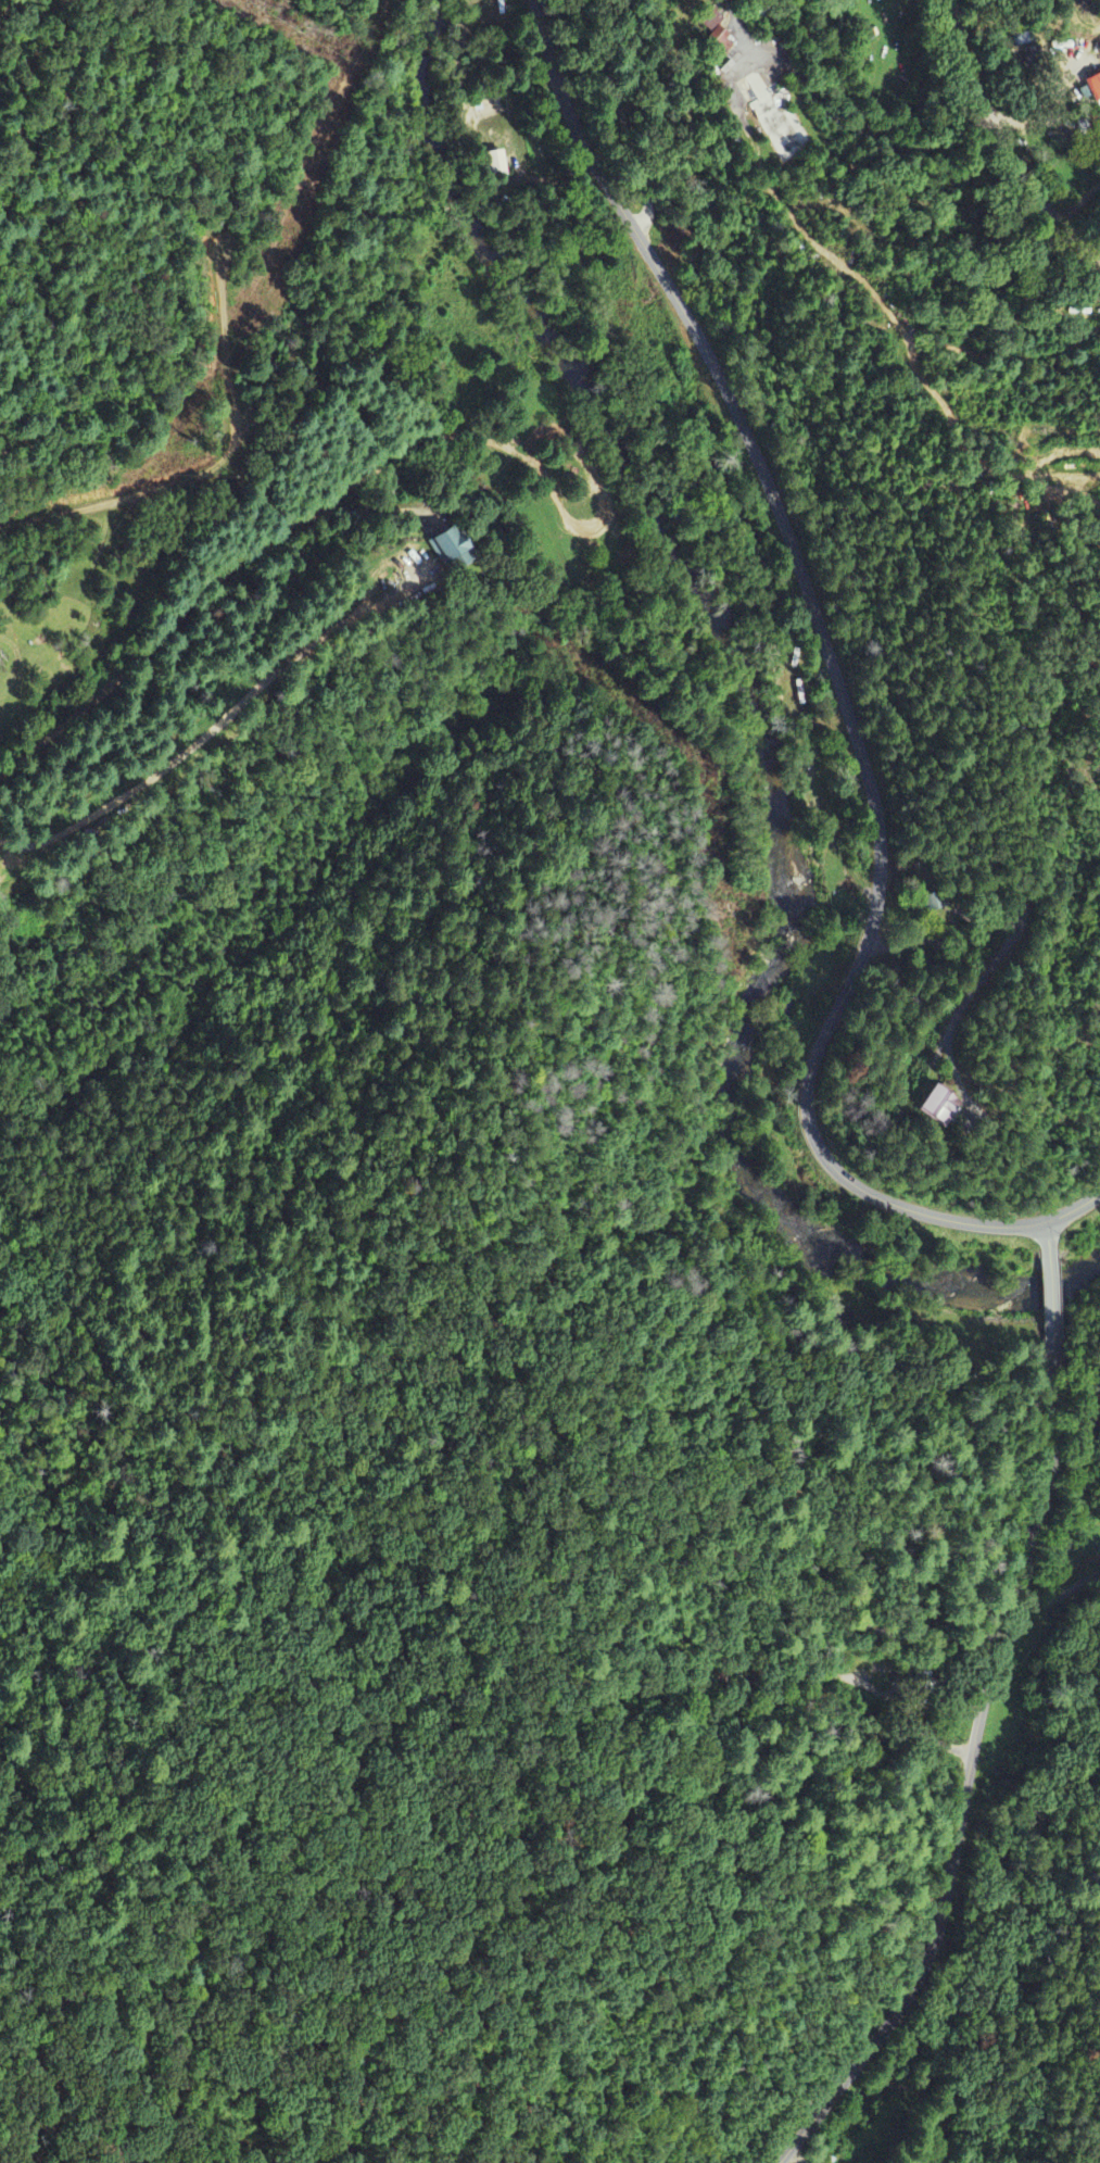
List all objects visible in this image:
building: (716, 34)
building: (1095, 89)
road: (631, 116)
road: (1003, 140)
building: (496, 164)
building: (450, 551)
road: (846, 706)
building: (937, 1107)
road: (1046, 1230)
road: (1051, 1311)
road: (965, 1794)

